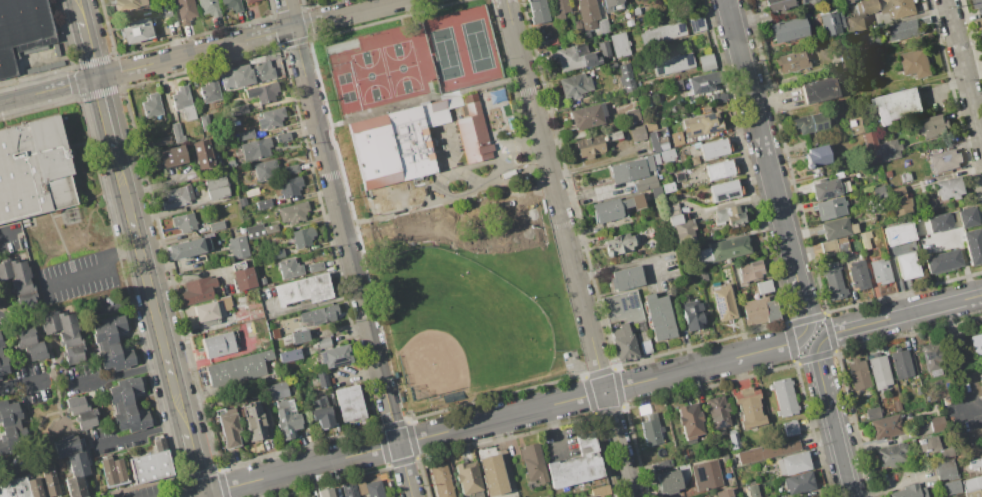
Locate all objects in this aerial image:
building: (161, 0)
building: (248, 1)
building: (805, 1)
building: (848, 1)
building: (127, 4)
building: (231, 4)
building: (610, 4)
building: (778, 4)
building: (978, 5)
building: (866, 6)
building: (209, 7)
building: (898, 7)
building: (559, 8)
building: (185, 10)
road: (80, 11)
building: (538, 11)
building: (166, 13)
building: (587, 13)
rooftop solar panel: (696, 23)
building: (831, 23)
building: (855, 23)
building: (697, 24)
building: (979, 24)
building: (602, 25)
rooftop solar panel: (682, 26)
building: (788, 28)
building: (21, 29)
building: (135, 30)
building: (904, 30)
building: (580, 31)
building: (661, 33)
building: (619, 44)
park: (476, 45)
building: (603, 49)
road: (90, 50)
road: (199, 51)
park: (445, 53)
building: (573, 57)
rooftop solar panel: (688, 58)
building: (791, 61)
building: (705, 62)
building: (915, 62)
building: (672, 64)
park: (401, 67)
rooftop solar panel: (659, 69)
road: (964, 70)
building: (251, 71)
park: (370, 75)
building: (625, 77)
traffic signals: (97, 78)
park: (343, 78)
building: (703, 81)
building: (574, 85)
rooftop solar panel: (699, 86)
building: (819, 89)
building: (209, 90)
building: (262, 92)
building: (496, 96)
road: (532, 97)
building: (718, 97)
building: (182, 102)
building: (897, 105)
building: (151, 106)
building: (240, 108)
road: (105, 112)
building: (630, 115)
building: (587, 116)
rooftop solar panel: (708, 117)
building: (270, 118)
building: (204, 122)
building: (809, 122)
building: (510, 123)
building: (701, 124)
rooftop solar panel: (824, 125)
building: (854, 125)
rooftop solar panel: (815, 126)
building: (933, 126)
rooftop solar panel: (711, 130)
building: (177, 132)
building: (473, 132)
building: (636, 133)
rooftop solar panel: (697, 133)
building: (246, 134)
building: (612, 135)
building: (282, 136)
building: (676, 138)
building: (162, 140)
building: (656, 141)
building: (396, 142)
building: (588, 146)
building: (712, 147)
building: (870, 147)
building: (255, 148)
building: (887, 150)
building: (202, 154)
building: (666, 154)
building: (172, 156)
building: (815, 156)
building: (693, 159)
building: (942, 160)
building: (649, 162)
road: (768, 165)
building: (32, 169)
building: (263, 169)
building: (290, 169)
building: (718, 169)
building: (628, 171)
building: (904, 176)
building: (644, 183)
building: (289, 186)
building: (215, 187)
building: (667, 187)
building: (825, 188)
building: (948, 188)
building: (724, 190)
building: (655, 191)
building: (899, 194)
rooftop solar panel: (827, 195)
rooftop solar panel: (730, 196)
rooftop solar panel: (734, 196)
rooftop solar panel: (719, 197)
building: (175, 198)
building: (242, 201)
building: (262, 203)
building: (613, 207)
building: (828, 207)
park: (449, 208)
building: (292, 212)
building: (729, 216)
building: (966, 216)
building: (938, 222)
building: (176, 224)
building: (679, 224)
building: (215, 225)
building: (836, 228)
building: (240, 229)
building: (259, 229)
road: (6, 232)
building: (897, 233)
building: (302, 237)
building: (864, 239)
building: (619, 243)
building: (842, 245)
building: (973, 245)
building: (237, 247)
building: (828, 247)
building: (187, 248)
road: (349, 248)
building: (720, 250)
building: (276, 254)
building: (942, 260)
building: (906, 265)
building: (315, 266)
building: (288, 268)
building: (748, 271)
building: (879, 271)
road: (95, 272)
building: (857, 274)
building: (242, 275)
building: (625, 278)
building: (261, 280)
building: (832, 280)
building: (18, 282)
building: (763, 286)
building: (303, 289)
road: (150, 290)
building: (197, 290)
road: (581, 292)
rooftop solar panel: (633, 299)
rooftop solar panel: (629, 301)
building: (723, 302)
rooftop solar panel: (623, 303)
rooftop solar panel: (719, 304)
building: (211, 309)
building: (759, 310)
road: (1, 311)
building: (319, 314)
building: (691, 314)
road: (901, 315)
building: (657, 316)
building: (622, 321)
park: (460, 325)
building: (249, 330)
building: (63, 334)
building: (299, 336)
road: (814, 338)
building: (323, 342)
building: (1, 343)
building: (29, 343)
building: (112, 343)
building: (220, 343)
building: (976, 345)
building: (334, 355)
building: (933, 358)
building: (954, 362)
building: (901, 363)
building: (3, 365)
building: (237, 368)
building: (920, 369)
building: (879, 371)
road: (122, 374)
building: (858, 374)
building: (321, 379)
building: (980, 379)
road: (23, 387)
building: (275, 390)
building: (783, 396)
building: (349, 403)
building: (128, 405)
building: (896, 405)
building: (748, 407)
building: (717, 411)
building: (81, 412)
building: (320, 413)
building: (872, 413)
road: (505, 416)
building: (285, 419)
building: (689, 420)
road: (833, 420)
building: (254, 421)
building: (937, 424)
building: (227, 426)
building: (886, 427)
building: (10, 428)
road: (554, 428)
building: (790, 428)
building: (651, 429)
building: (733, 440)
building: (924, 443)
road: (618, 444)
building: (766, 451)
building: (891, 454)
building: (724, 458)
building: (151, 463)
building: (532, 463)
building: (792, 463)
building: (975, 463)
building: (72, 464)
road: (194, 464)
building: (575, 464)
building: (945, 469)
building: (112, 471)
building: (491, 474)
building: (705, 475)
building: (467, 479)
building: (441, 480)
building: (668, 481)
building: (50, 482)
building: (797, 482)
road: (148, 484)
building: (972, 486)
building: (34, 487)
building: (360, 487)
building: (950, 487)
building: (14, 488)
building: (374, 489)
building: (349, 490)
building: (600, 490)
building: (752, 490)
building: (909, 491)
parking lot: (146, 492)
building: (325, 492)
building: (723, 493)
road: (203, 496)
building: (308, 496)
building: (590, 496)
building: (595, 496)
building: (954, 496)

